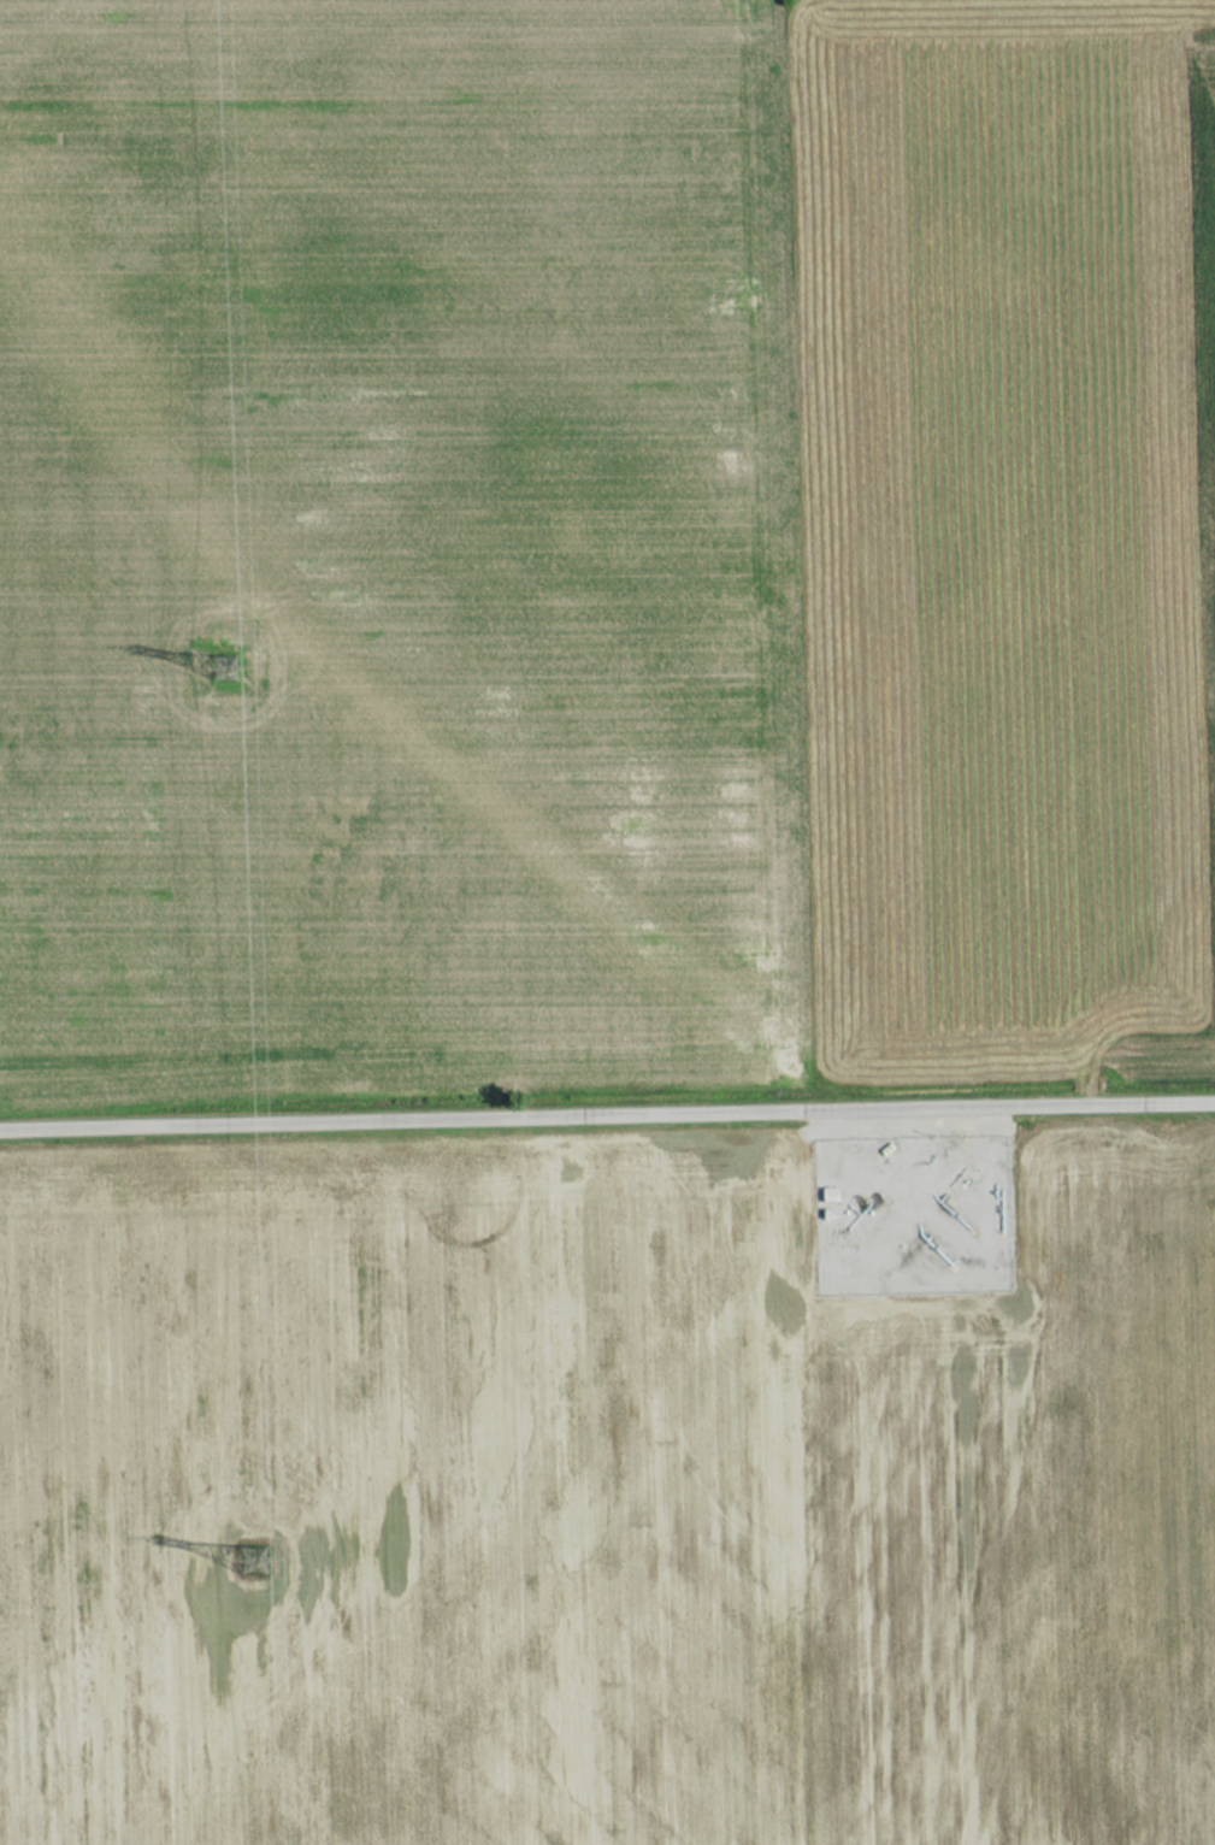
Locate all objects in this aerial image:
crop: (996, 525)
crop: (388, 543)
power tower: (222, 661)
road: (607, 1109)
crop: (600, 1504)
power tower: (248, 1564)

